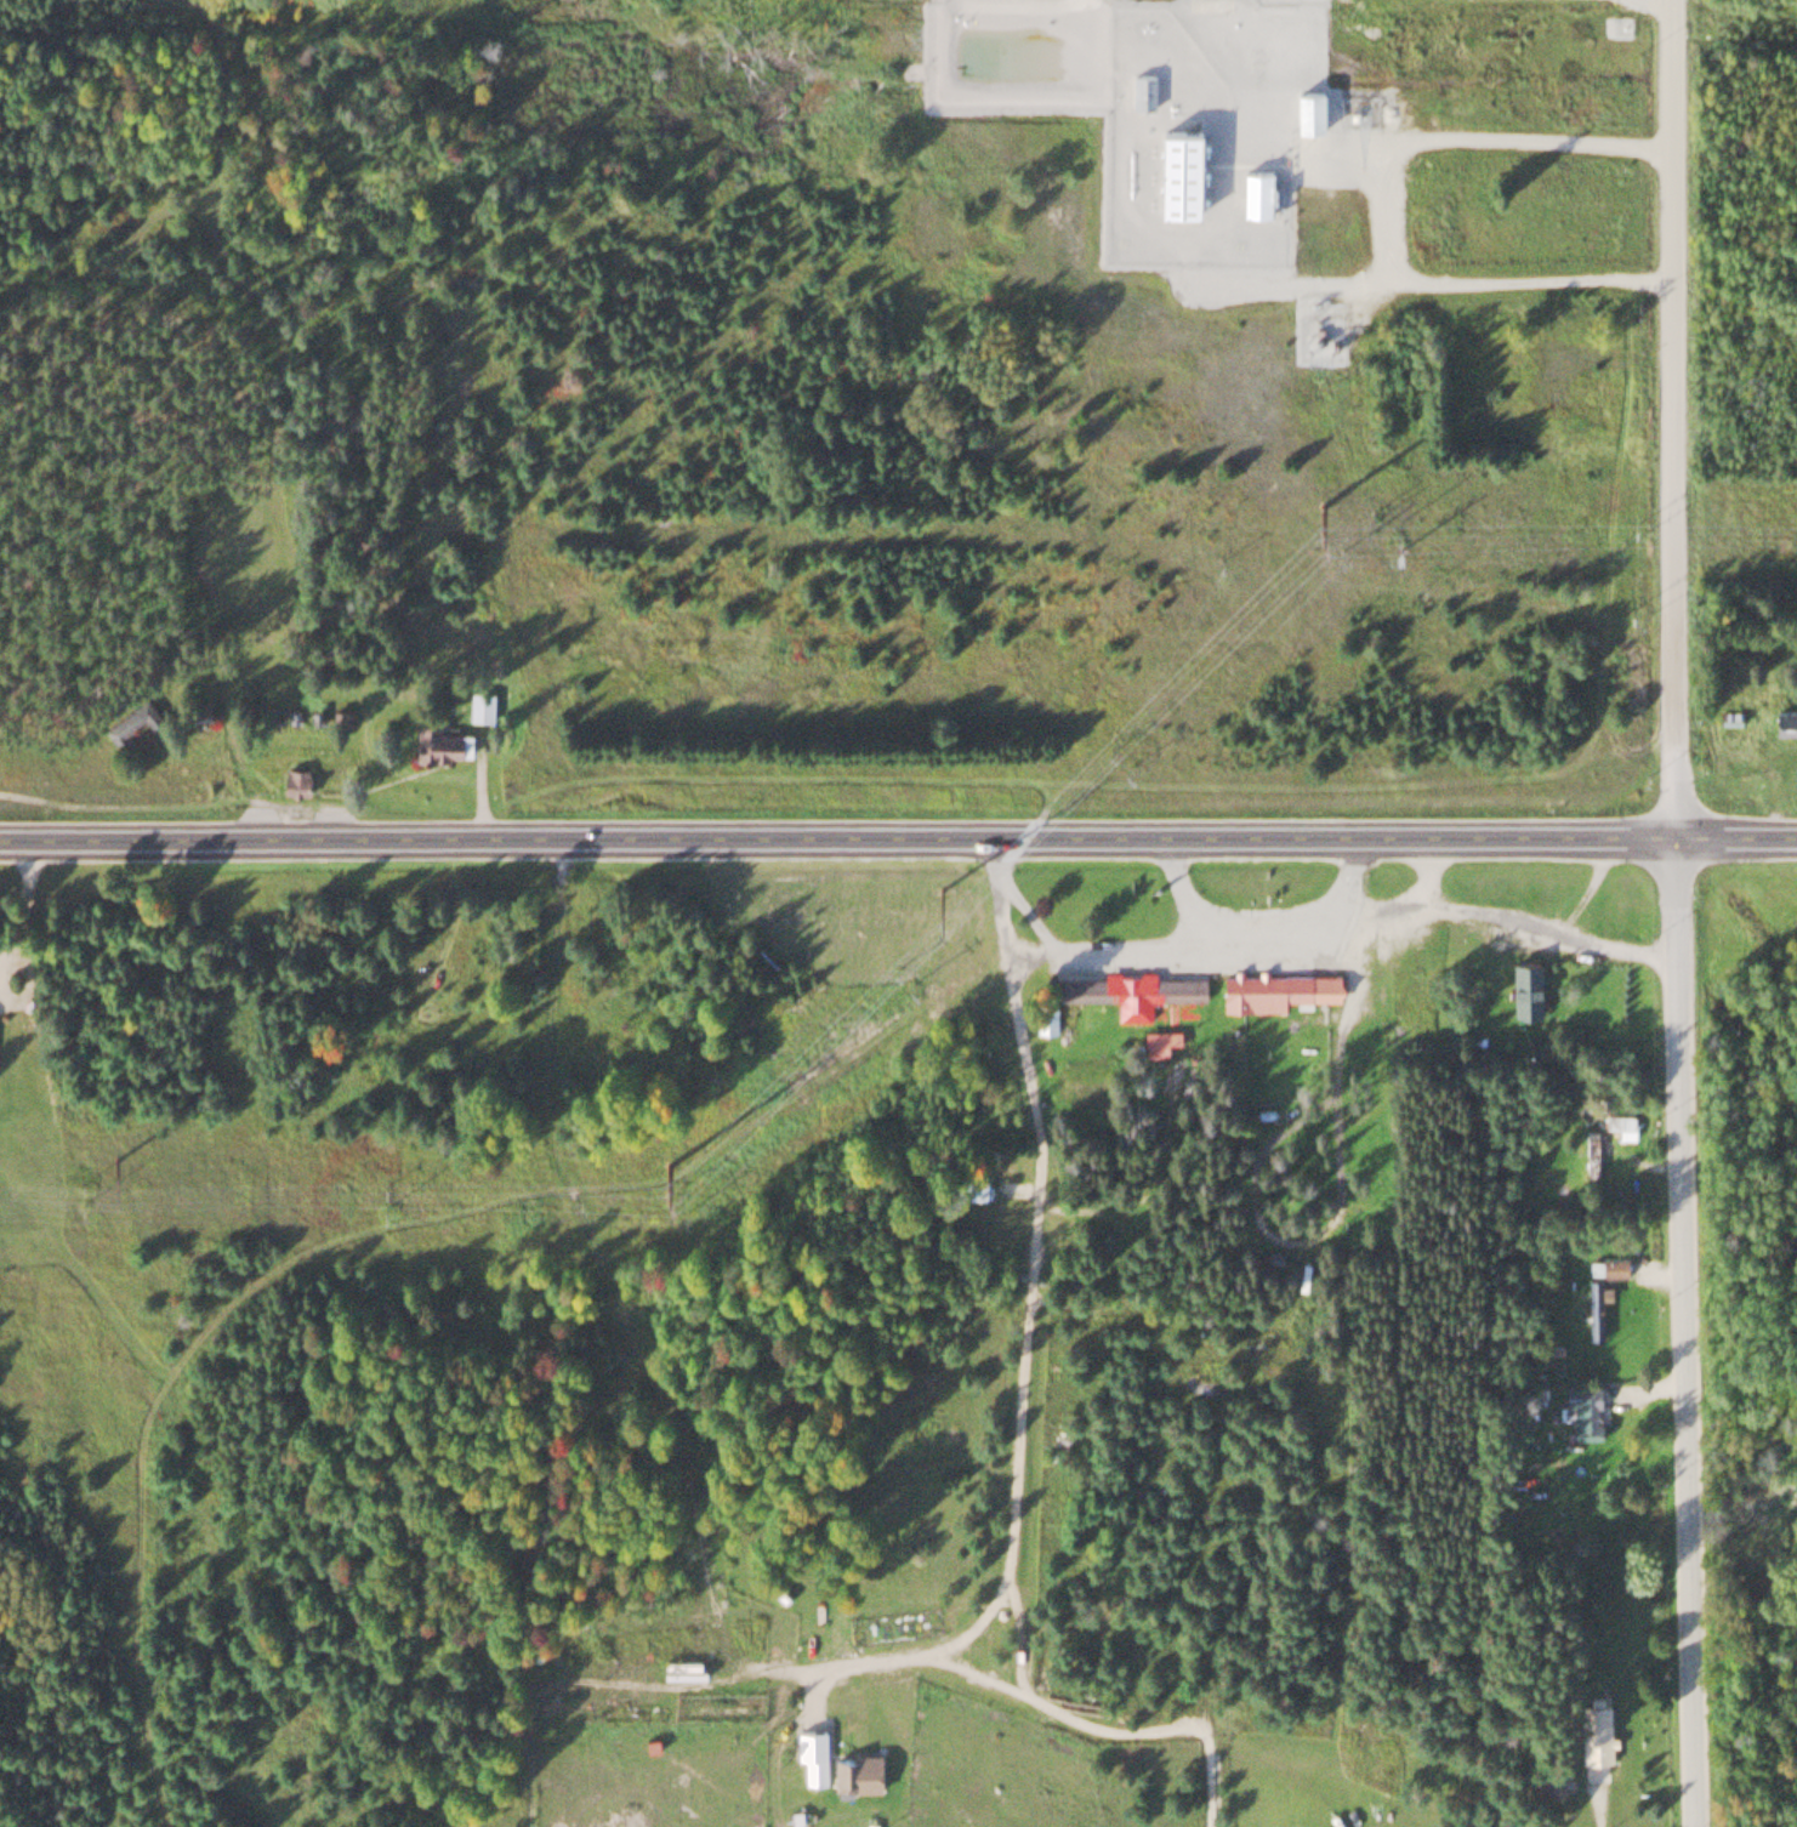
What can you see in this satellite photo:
road: (1440, 17)
building: (1141, 89)
building: (1304, 108)
building: (1176, 169)
building: (1253, 189)
building: (1317, 326)
power substation: (1319, 326)
road: (1677, 416)
power tower: (1318, 495)
building: (478, 706)
building: (194, 713)
building: (1784, 719)
building: (129, 721)
building: (436, 739)
building: (291, 781)
road: (898, 839)
power tower: (939, 887)
road: (22, 903)
building: (1523, 985)
building: (1274, 989)
building: (1128, 990)
building: (1043, 1018)
building: (1160, 1041)
building: (1620, 1123)
building: (1592, 1154)
power tower: (115, 1155)
power tower: (667, 1163)
building: (989, 1165)
building: (976, 1185)
building: (1365, 1246)
building: (1276, 1257)
building: (1613, 1264)
building: (1594, 1304)
road: (480, 1317)
road: (1683, 1331)
building: (1582, 1408)
road: (678, 1529)
building: (681, 1668)
building: (1594, 1731)
building: (808, 1735)
building: (813, 1768)
building: (849, 1771)
building: (1539, 1780)

